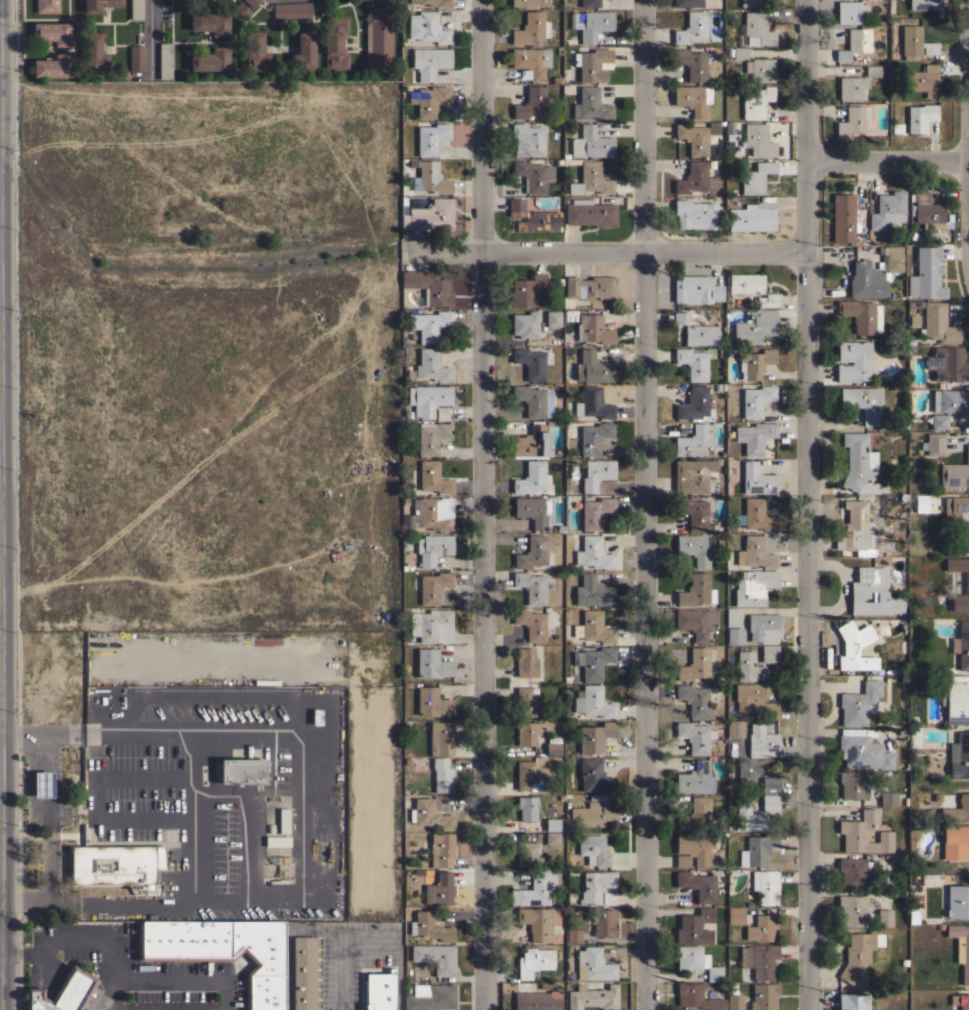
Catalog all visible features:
building: (191, 2)
building: (251, 2)
building: (437, 2)
building: (529, 3)
building: (589, 3)
building: (687, 3)
building: (752, 3)
building: (99, 4)
building: (923, 4)
building: (47, 6)
building: (136, 10)
building: (292, 10)
building: (850, 12)
building: (210, 23)
building: (591, 23)
building: (427, 27)
building: (531, 28)
building: (691, 28)
building: (756, 29)
building: (53, 32)
road: (151, 38)
building: (377, 38)
building: (335, 42)
building: (914, 42)
building: (854, 43)
building: (255, 51)
building: (93, 52)
building: (303, 52)
building: (740, 52)
building: (136, 57)
building: (210, 59)
building: (164, 60)
building: (429, 61)
building: (531, 61)
building: (693, 63)
building: (593, 64)
building: (53, 66)
building: (760, 69)
building: (872, 70)
building: (921, 78)
building: (850, 87)
building: (693, 99)
building: (428, 100)
building: (532, 103)
building: (757, 103)
building: (590, 105)
building: (920, 117)
building: (852, 120)
building: (712, 127)
building: (728, 129)
building: (430, 138)
building: (693, 138)
building: (528, 139)
building: (758, 140)
building: (591, 142)
road: (888, 162)
building: (534, 176)
building: (756, 177)
building: (430, 178)
building: (694, 179)
building: (591, 180)
building: (926, 209)
building: (887, 210)
building: (590, 213)
building: (694, 214)
building: (430, 215)
building: (533, 217)
building: (751, 217)
building: (844, 219)
road: (604, 254)
building: (893, 259)
building: (926, 274)
building: (866, 280)
building: (745, 283)
building: (428, 287)
building: (589, 287)
building: (696, 289)
building: (527, 290)
building: (768, 300)
building: (861, 315)
building: (553, 318)
building: (681, 318)
building: (912, 320)
building: (525, 324)
building: (939, 324)
building: (429, 325)
building: (755, 327)
building: (594, 329)
building: (701, 334)
building: (853, 360)
building: (532, 362)
building: (755, 362)
building: (692, 363)
building: (947, 364)
building: (431, 366)
building: (593, 367)
building: (431, 398)
building: (534, 400)
building: (756, 400)
building: (862, 402)
building: (951, 402)
building: (593, 403)
building: (695, 405)
building: (939, 421)
building: (431, 436)
building: (754, 437)
building: (593, 438)
building: (695, 441)
building: (532, 443)
building: (933, 444)
building: (859, 464)
building: (955, 472)
building: (596, 473)
building: (693, 475)
building: (530, 477)
building: (432, 478)
building: (756, 479)
road: (482, 504)
road: (645, 504)
road: (806, 504)
building: (920, 505)
building: (533, 510)
building: (435, 512)
building: (595, 512)
building: (693, 512)
building: (756, 515)
building: (961, 521)
building: (856, 528)
building: (695, 547)
building: (434, 549)
building: (591, 552)
building: (534, 553)
building: (755, 553)
building: (966, 582)
building: (431, 586)
building: (531, 586)
building: (754, 587)
building: (696, 590)
building: (592, 591)
building: (873, 593)
building: (731, 616)
building: (696, 622)
building: (533, 623)
building: (430, 625)
building: (593, 627)
building: (763, 628)
building: (734, 635)
building: (962, 644)
building: (854, 648)
building: (769, 653)
building: (526, 662)
building: (593, 662)
building: (432, 664)
building: (697, 665)
building: (748, 666)
building: (693, 699)
building: (526, 700)
building: (754, 700)
building: (955, 700)
building: (432, 702)
building: (593, 702)
building: (859, 703)
building: (316, 717)
building: (735, 728)
building: (528, 732)
road: (26, 735)
building: (595, 736)
building: (696, 737)
building: (440, 738)
building: (761, 741)
building: (553, 746)
building: (862, 750)
building: (959, 756)
building: (243, 770)
building: (749, 772)
building: (442, 775)
building: (595, 776)
building: (528, 777)
building: (695, 778)
building: (852, 784)
building: (42, 785)
building: (769, 785)
building: (887, 798)
building: (769, 802)
building: (527, 808)
building: (957, 810)
building: (593, 813)
building: (695, 814)
building: (430, 815)
building: (748, 818)
road: (193, 820)
building: (282, 820)
road: (54, 821)
building: (552, 824)
building: (864, 833)
building: (552, 838)
building: (277, 841)
building: (955, 841)
building: (441, 849)
building: (593, 849)
building: (693, 849)
building: (757, 849)
building: (527, 854)
building: (114, 864)
building: (854, 872)
building: (885, 880)
building: (697, 885)
building: (765, 886)
building: (597, 887)
building: (534, 888)
building: (438, 889)
building: (957, 901)
road: (28, 902)
building: (853, 909)
building: (735, 915)
building: (884, 917)
building: (536, 922)
building: (604, 922)
building: (429, 926)
building: (694, 926)
building: (761, 927)
building: (573, 935)
road: (64, 936)
building: (961, 948)
building: (223, 951)
building: (856, 954)
building: (435, 958)
building: (759, 960)
building: (533, 961)
building: (696, 961)
building: (593, 965)
building: (305, 973)
road: (169, 977)
building: (380, 990)
building: (62, 992)
building: (763, 996)
building: (429, 997)
building: (593, 997)
building: (696, 997)
building: (960, 1000)
building: (536, 1001)
building: (851, 1001)
building: (734, 1002)

